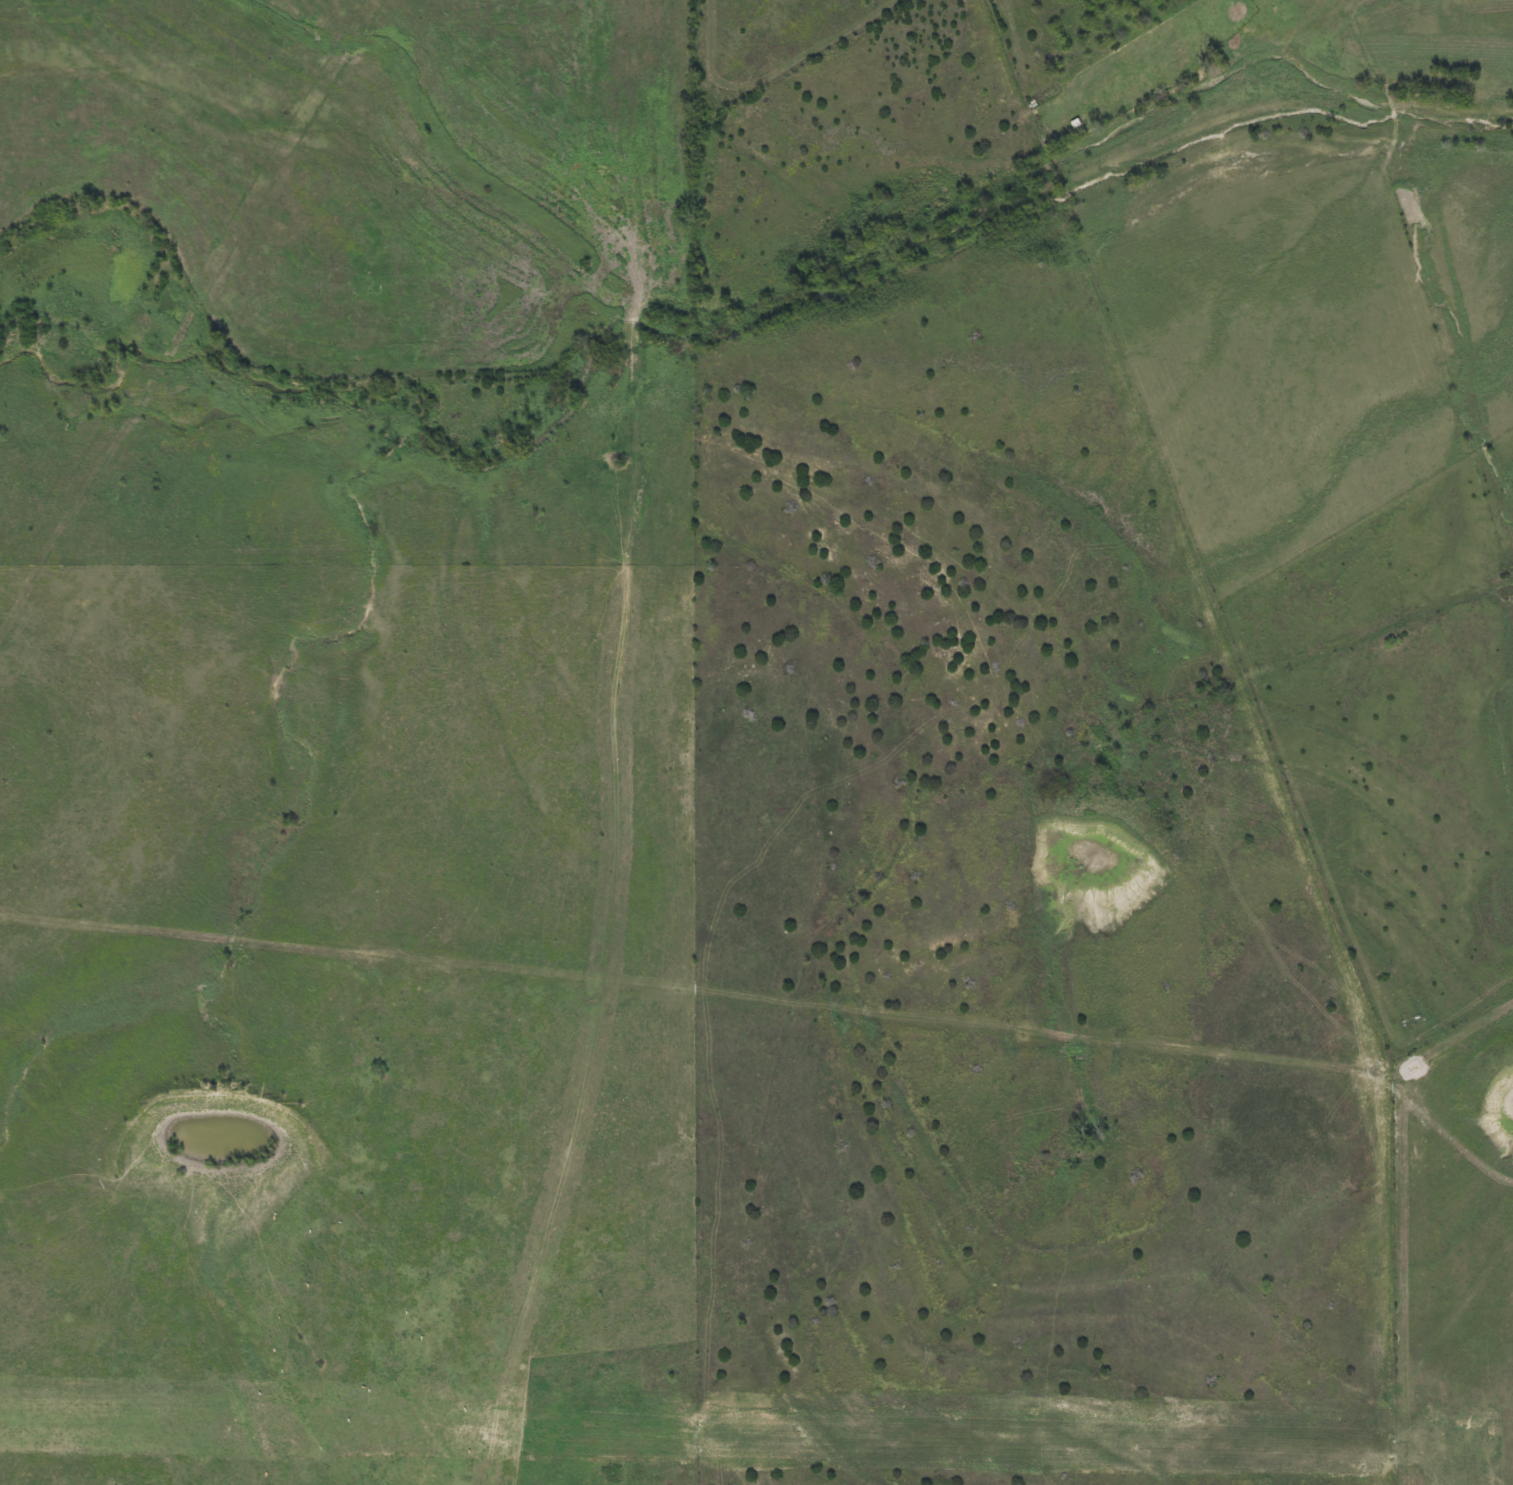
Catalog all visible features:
building: (1406, 1068)

